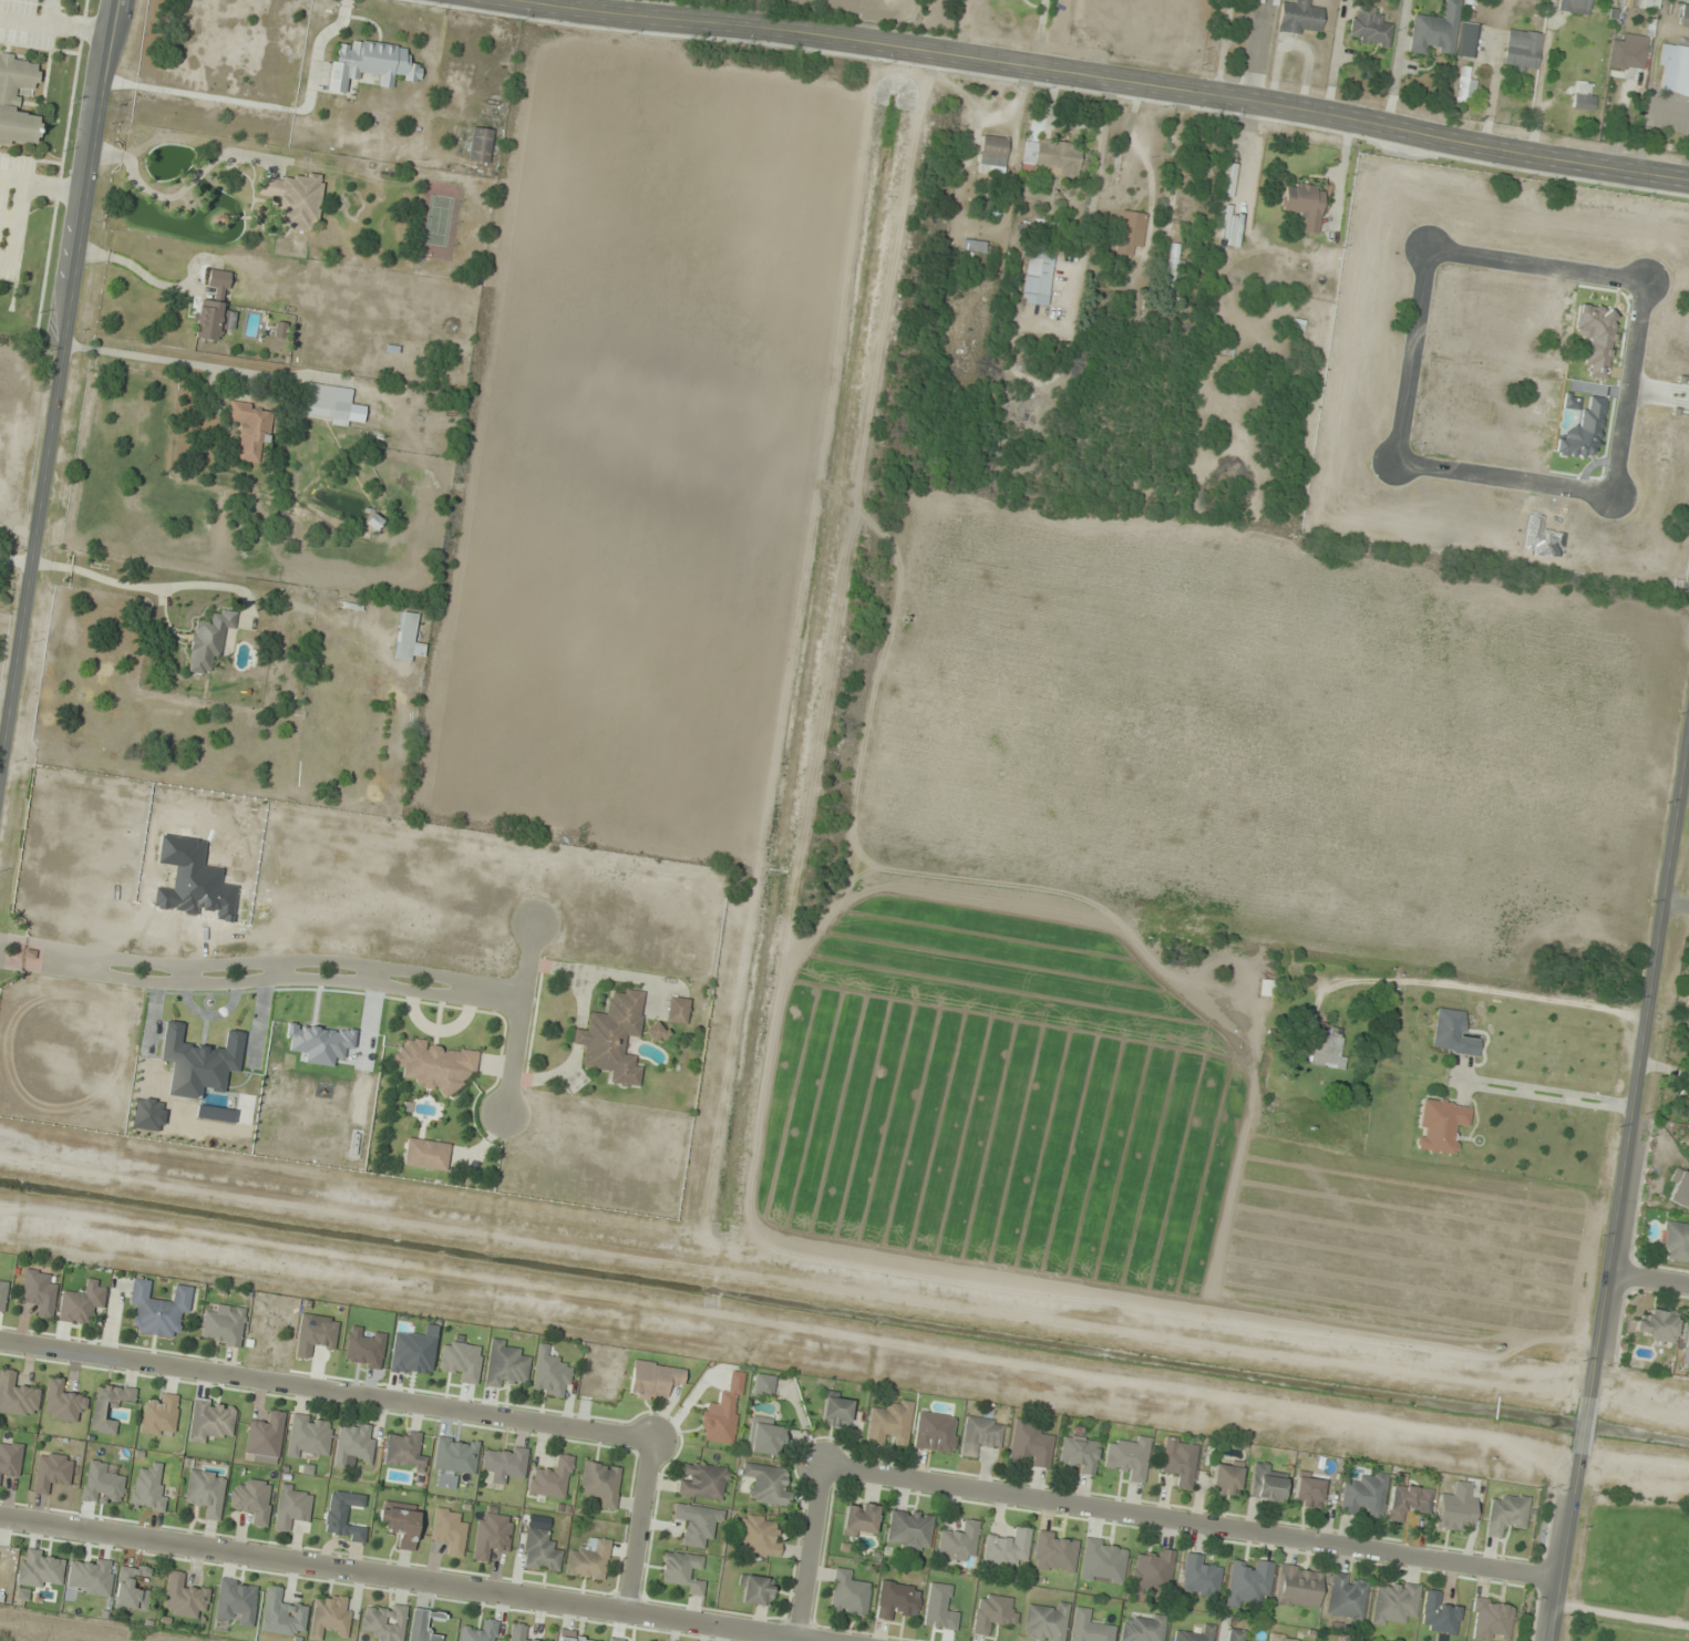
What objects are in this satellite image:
building: (1688, 0)
building: (1573, 6)
building: (1683, 16)
building: (1299, 18)
building: (1368, 27)
building: (1521, 50)
building: (1627, 51)
building: (371, 64)
building: (1676, 66)
road: (1114, 75)
building: (17, 99)
building: (1580, 109)
building: (480, 144)
building: (992, 154)
building: (1051, 156)
building: (292, 199)
building: (1304, 204)
building: (1129, 231)
building: (1170, 261)
building: (1036, 276)
building: (215, 308)
road: (1409, 352)
road: (59, 392)
road: (1658, 393)
building: (328, 402)
building: (249, 430)
building: (373, 522)
building: (406, 637)
building: (207, 640)
road: (1679, 904)
road: (262, 961)
road: (281, 970)
road: (184, 974)
road: (375, 977)
road: (260, 980)
building: (1688, 985)
building: (1266, 988)
building: (677, 1010)
road: (519, 1016)
building: (655, 1031)
building: (1452, 1032)
building: (612, 1038)
building: (1325, 1044)
building: (435, 1064)
building: (1440, 1124)
building: (426, 1154)
building: (1680, 1189)
road: (1623, 1209)
building: (1676, 1240)
road: (1651, 1278)
building: (39, 1291)
building: (3, 1292)
building: (81, 1302)
building: (157, 1308)
building: (224, 1325)
building: (1657, 1325)
building: (1686, 1340)
building: (462, 1360)
building: (505, 1363)
building: (549, 1372)
building: (655, 1379)
building: (763, 1384)
road: (328, 1386)
building: (18, 1394)
building: (63, 1401)
building: (107, 1405)
building: (836, 1411)
building: (722, 1413)
building: (159, 1414)
building: (210, 1420)
building: (890, 1423)
building: (308, 1434)
building: (765, 1435)
building: (980, 1435)
building: (265, 1437)
building: (353, 1443)
building: (1030, 1444)
building: (404, 1449)
building: (1079, 1453)
building: (10, 1457)
building: (1130, 1457)
building: (1180, 1459)
building: (52, 1470)
building: (552, 1478)
building: (1226, 1478)
building: (702, 1480)
building: (601, 1482)
building: (101, 1484)
building: (766, 1484)
building: (1265, 1484)
building: (148, 1488)
building: (206, 1490)
building: (1308, 1490)
building: (1363, 1496)
building: (253, 1499)
building: (1408, 1500)
building: (1455, 1507)
building: (292, 1508)
building: (1506, 1514)
building: (859, 1519)
road: (1193, 1521)
building: (696, 1523)
building: (400, 1524)
road: (643, 1524)
building: (909, 1528)
building: (449, 1530)
building: (492, 1535)
building: (756, 1535)
building: (959, 1541)
building: (1007, 1546)
building: (540, 1551)
road: (813, 1551)
building: (1054, 1551)
building: (589, 1558)
building: (1102, 1561)
building: (41, 1568)
building: (683, 1570)
building: (1150, 1571)
building: (90, 1576)
building: (1199, 1577)
road: (410, 1578)
building: (1248, 1580)
building: (1298, 1586)
building: (133, 1587)
building: (755, 1589)
building: (848, 1593)
building: (184, 1596)
building: (1346, 1597)
building: (897, 1599)
building: (237, 1600)
building: (1394, 1603)
building: (282, 1612)
building: (992, 1613)
road: (1623, 1613)
building: (329, 1614)
building: (384, 1621)
building: (1046, 1623)
building: (422, 1625)
building: (1090, 1627)
building: (1144, 1628)
building: (480, 1632)
building: (521, 1633)
building: (1194, 1634)
building: (1237, 1634)
building: (568, 1635)
building: (1287, 1638)
building: (616, 1639)

